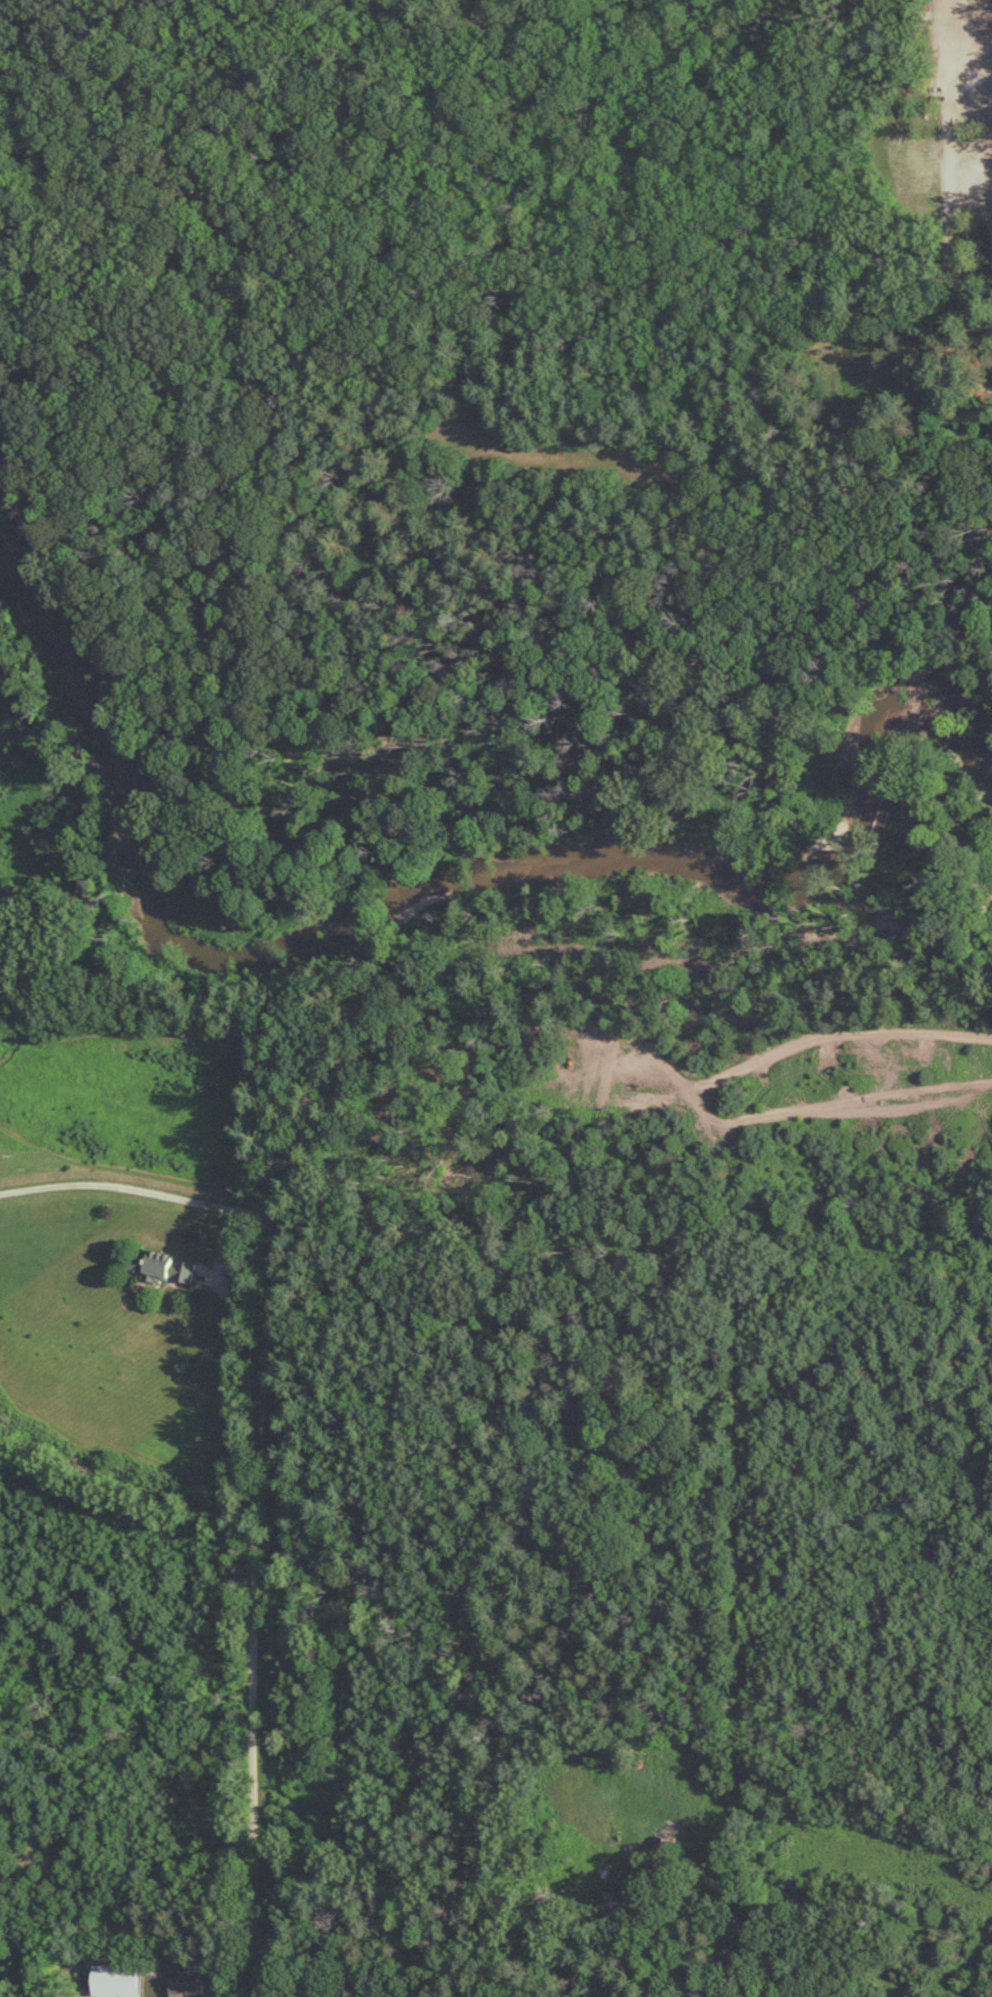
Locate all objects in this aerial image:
road: (864, 10)
road: (457, 23)
road: (899, 26)
road: (67, 51)
road: (905, 57)
road: (985, 113)
parking lot: (964, 115)
road: (442, 154)
road: (958, 226)
road: (463, 281)
road: (960, 289)
road: (597, 784)
river: (421, 892)
road: (135, 1191)
building: (163, 1266)
road: (254, 1605)
road: (276, 1991)
building: (335, 1993)

